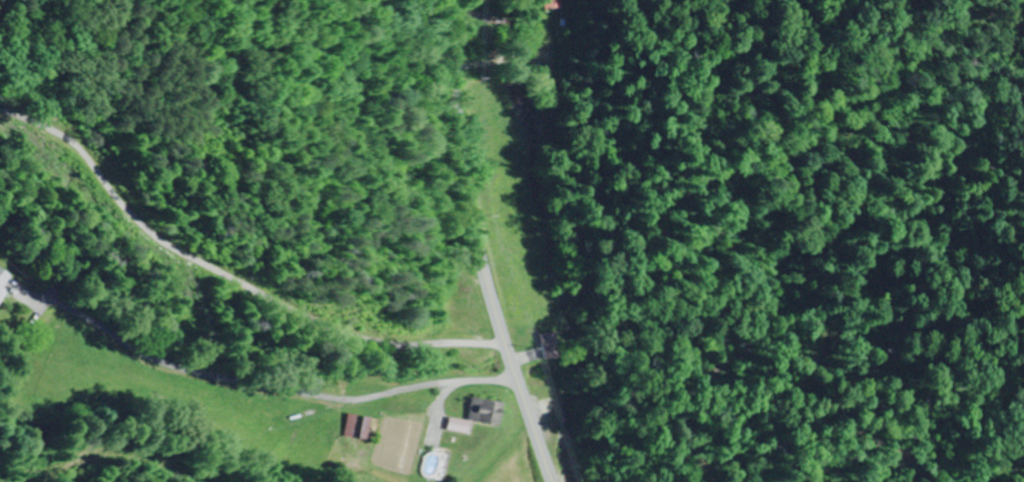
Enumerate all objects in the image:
building: (552, 3)
road: (470, 197)
building: (5, 280)
building: (546, 344)
road: (251, 401)
building: (481, 411)
building: (261, 417)
road: (525, 436)

